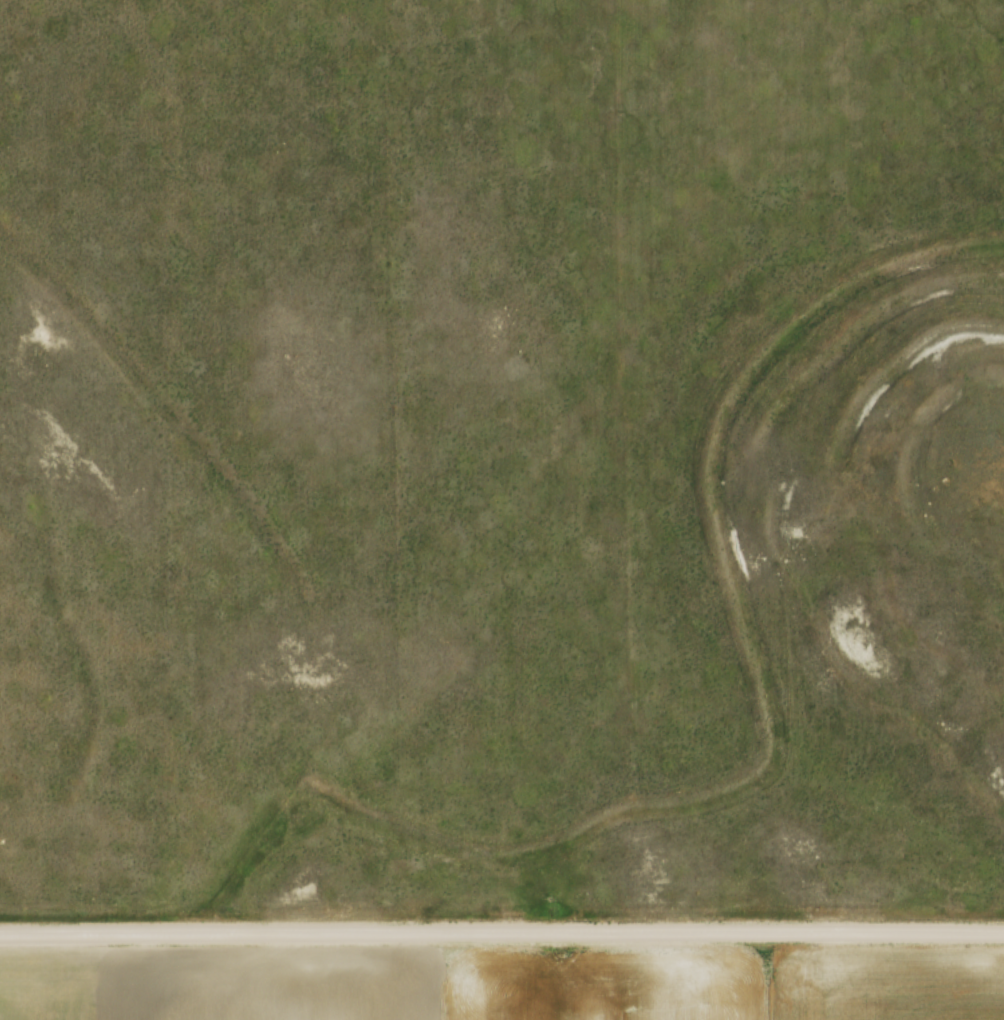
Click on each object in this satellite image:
road: (501, 930)

